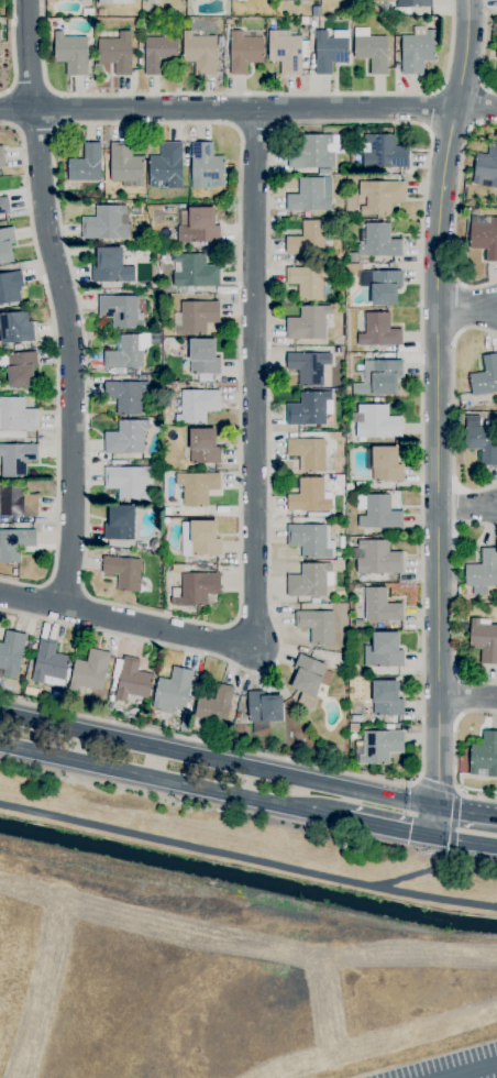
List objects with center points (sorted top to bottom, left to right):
building: (115, 1)
building: (413, 2)
building: (329, 48)
building: (285, 50)
building: (371, 50)
building: (416, 50)
building: (199, 51)
building: (243, 51)
building: (70, 52)
building: (115, 52)
building: (157, 52)
building: (496, 55)
road: (227, 110)
road: (476, 110)
building: (313, 150)
building: (383, 152)
building: (1, 156)
building: (86, 163)
building: (124, 164)
building: (166, 165)
building: (206, 166)
building: (486, 166)
building: (310, 194)
building: (379, 195)
building: (3, 205)
building: (106, 222)
building: (198, 224)
building: (484, 234)
building: (307, 238)
building: (378, 240)
building: (5, 244)
building: (111, 265)
building: (195, 271)
building: (307, 280)
building: (382, 285)
building: (10, 286)
road: (62, 304)
road: (465, 306)
building: (120, 310)
building: (197, 316)
building: (307, 322)
building: (15, 327)
building: (378, 330)
building: (125, 352)
building: (202, 355)
building: (308, 366)
building: (21, 367)
building: (485, 375)
building: (379, 376)
road: (253, 378)
building: (126, 395)
building: (197, 405)
building: (309, 408)
road: (434, 417)
building: (376, 421)
building: (125, 437)
building: (481, 439)
building: (203, 444)
building: (307, 452)
building: (15, 458)
building: (385, 463)
building: (128, 481)
building: (197, 486)
building: (308, 495)
building: (16, 501)
road: (465, 504)
building: (377, 512)
building: (120, 521)
building: (199, 537)
building: (310, 539)
building: (14, 542)
building: (376, 557)
building: (123, 571)
building: (482, 571)
building: (310, 580)
building: (197, 587)
building: (379, 605)
road: (126, 623)
building: (318, 625)
building: (483, 639)
building: (383, 649)
building: (11, 652)
building: (48, 663)
building: (90, 669)
building: (309, 675)
building: (132, 680)
building: (172, 690)
building: (386, 697)
road: (465, 698)
building: (214, 704)
building: (264, 706)
building: (379, 746)
building: (485, 754)
road: (218, 759)
road: (154, 776)
road: (466, 812)
road: (372, 823)
road: (466, 840)
road: (247, 856)
road: (419, 871)
park: (223, 988)
road: (471, 1070)

